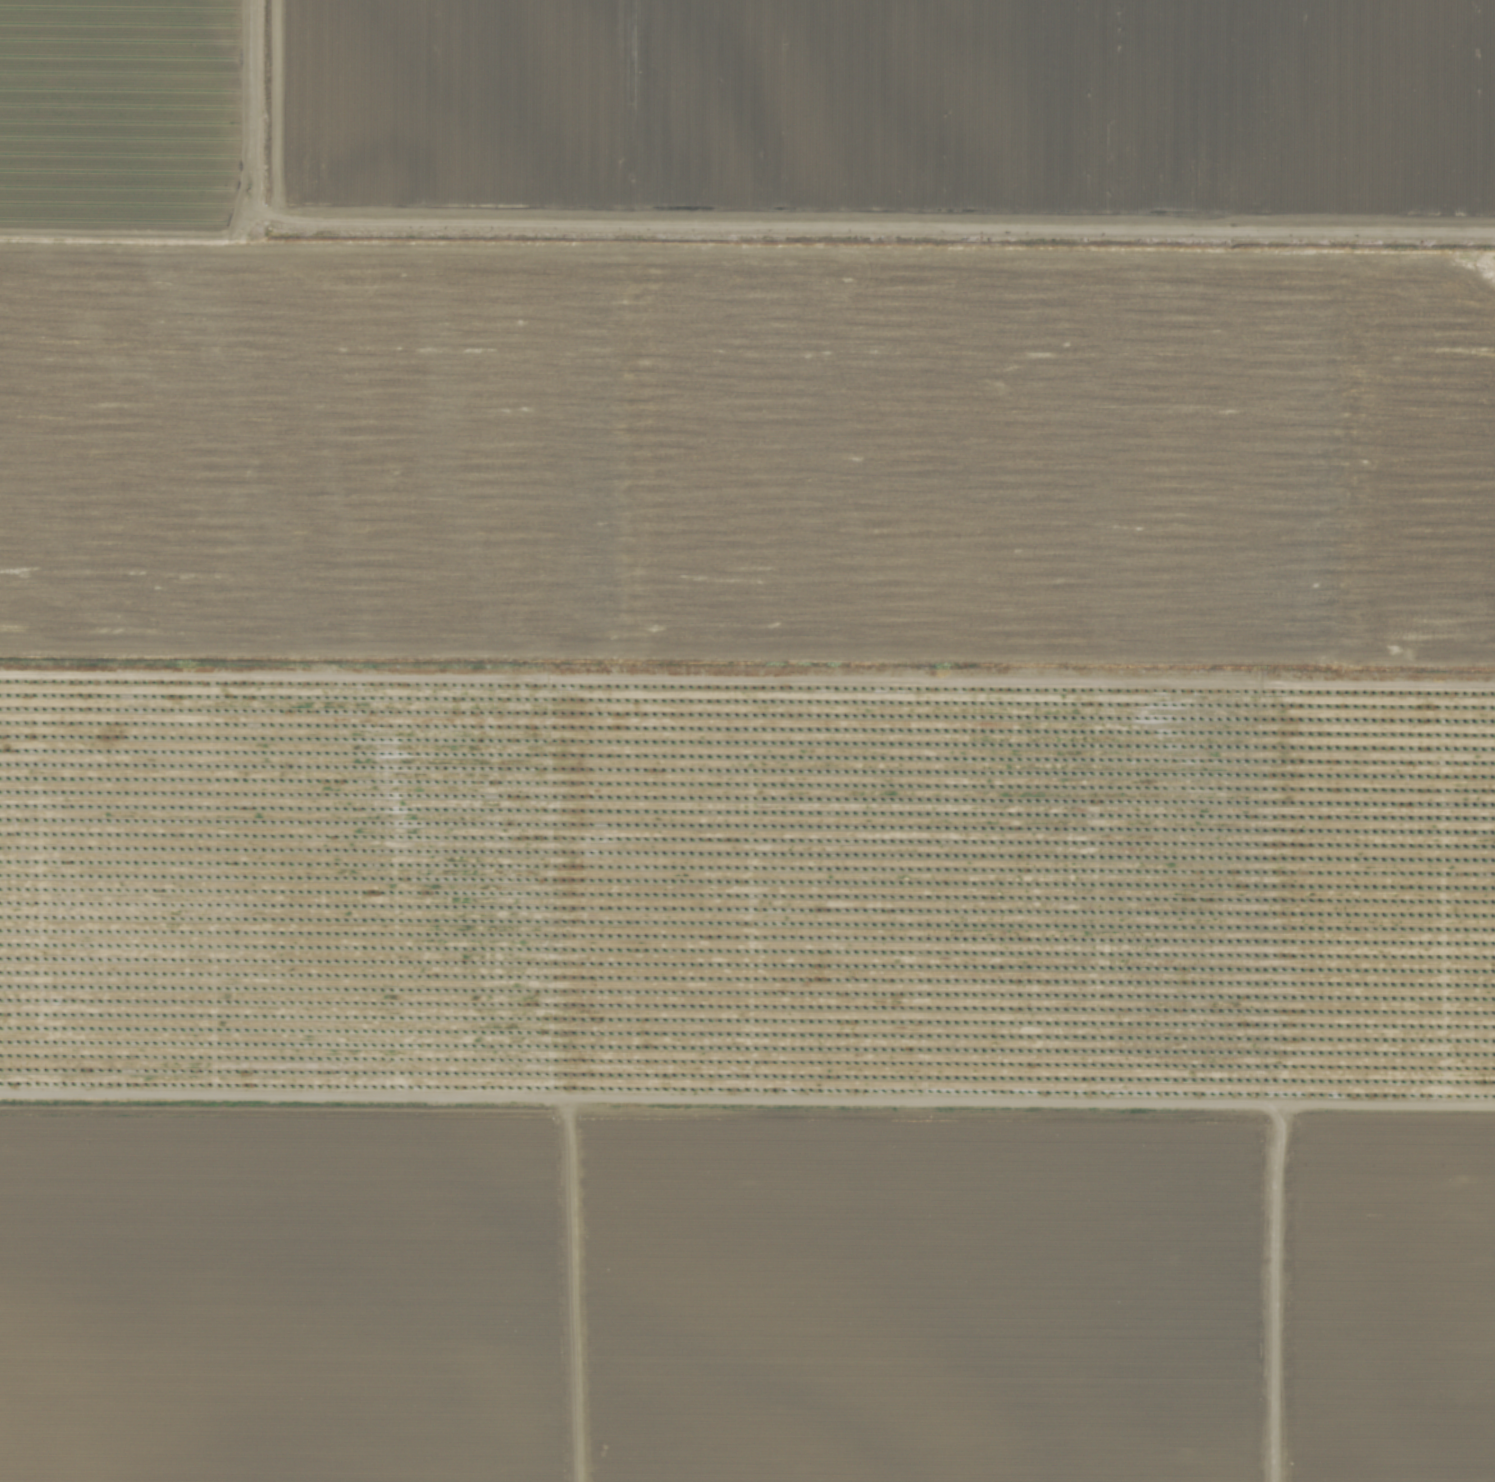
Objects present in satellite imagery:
road: (747, 250)

